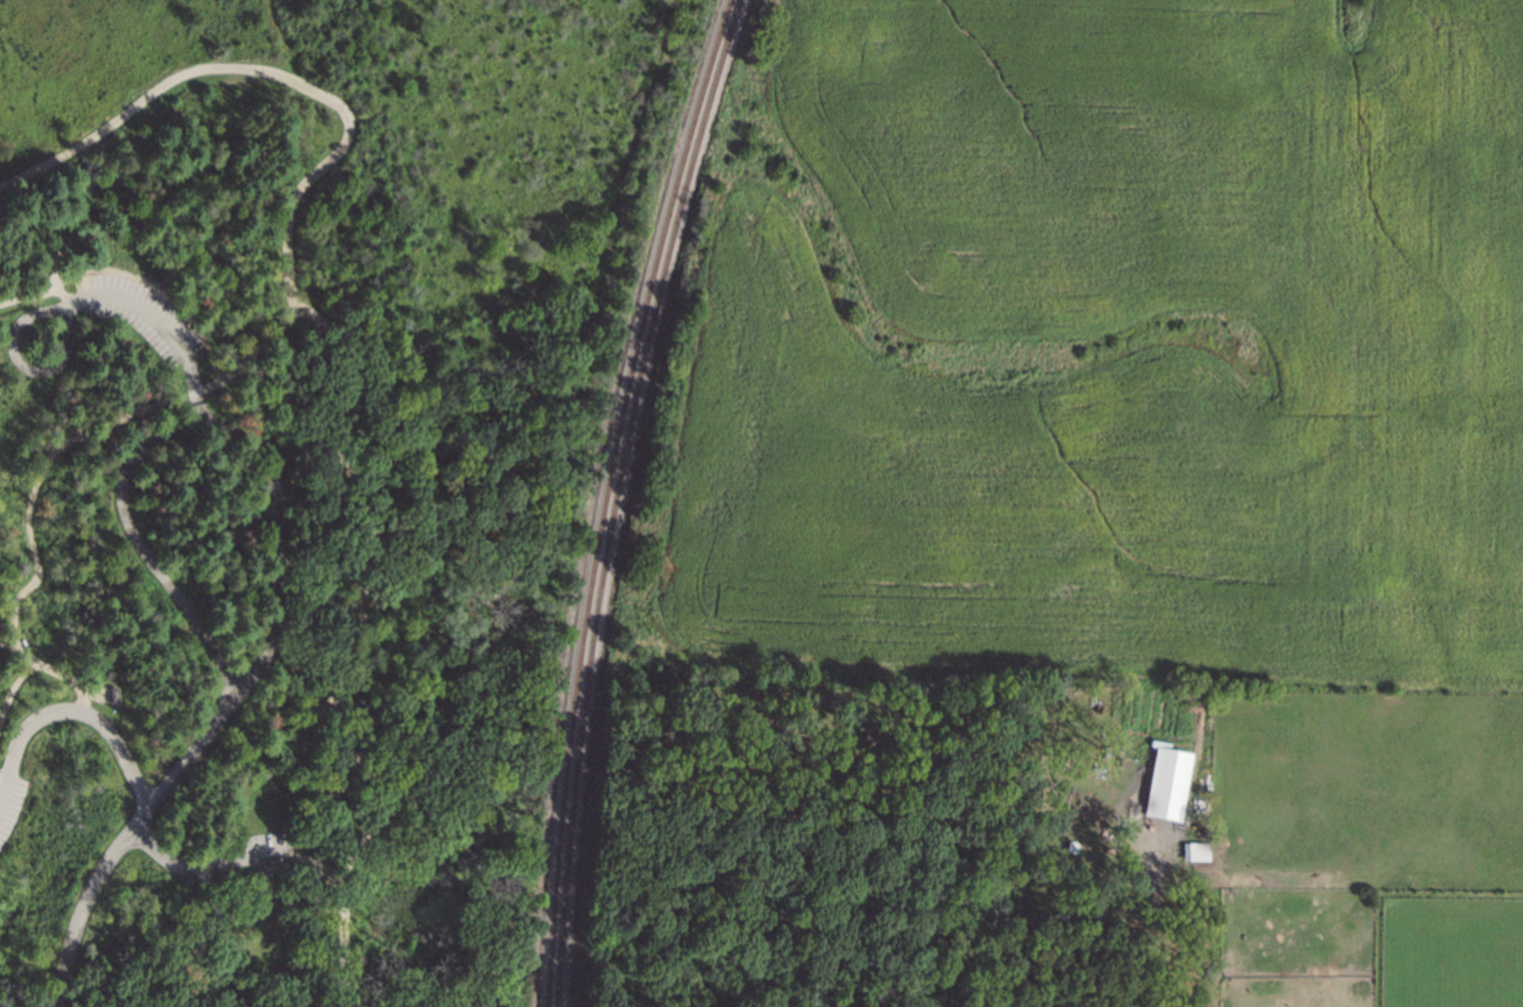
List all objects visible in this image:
road: (72, 303)
crop: (1116, 346)
road: (250, 356)
parking lot: (173, 361)
road: (348, 383)
road: (191, 427)
railway: (606, 497)
railway: (615, 497)
road: (130, 772)
parking lot: (10, 802)
road: (126, 840)
parking lot: (259, 841)
building: (1198, 852)
road: (311, 864)

